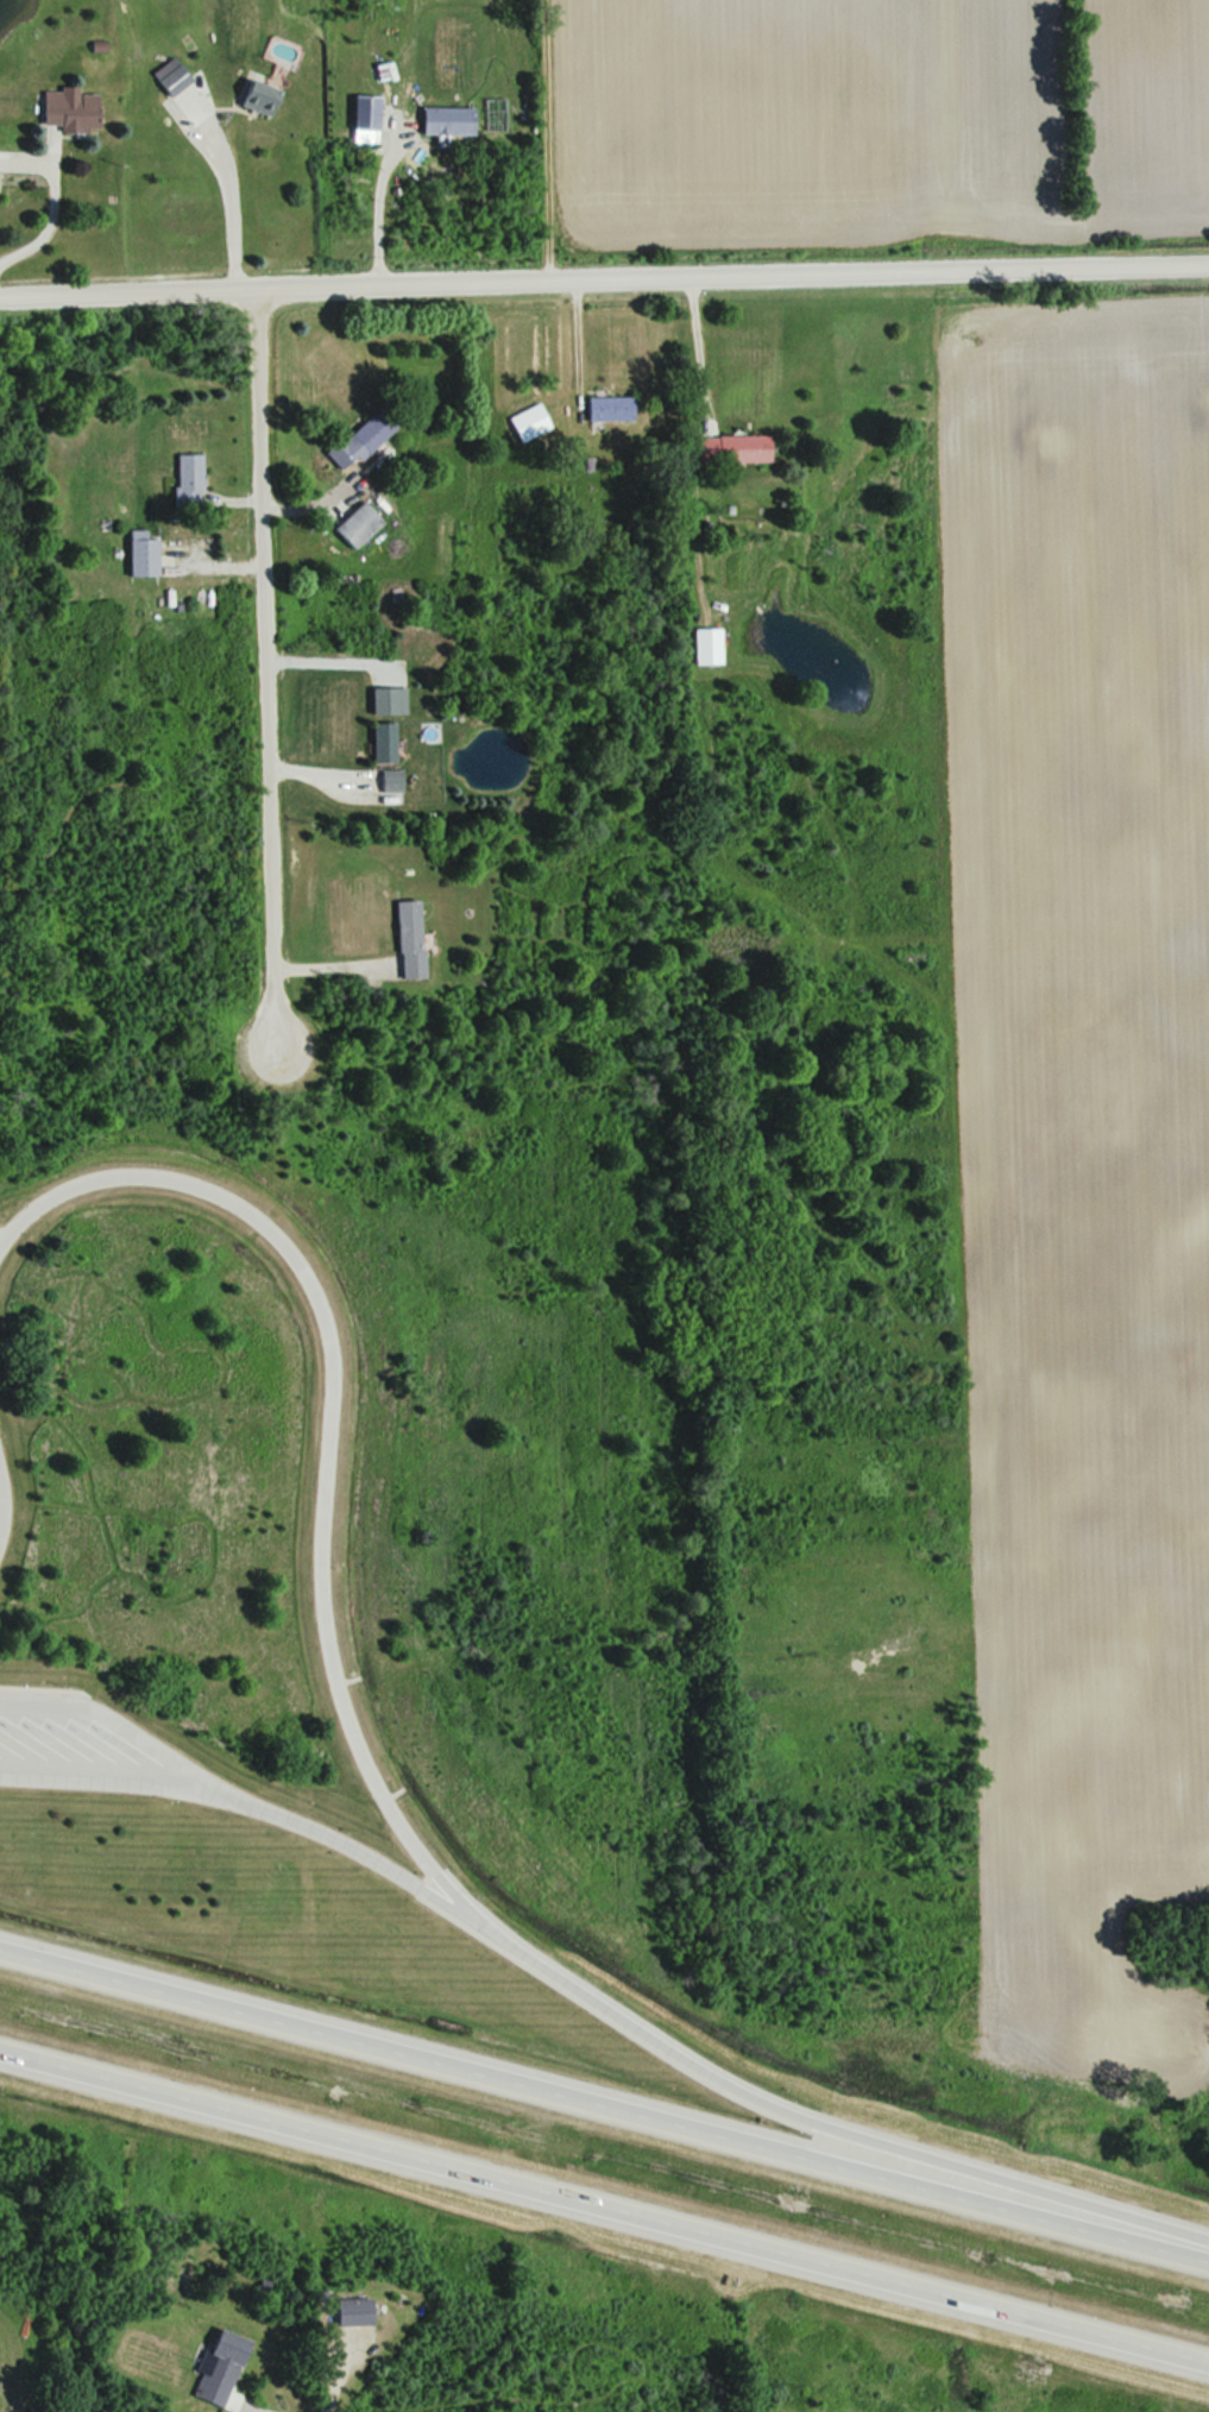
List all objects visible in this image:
building: (163, 77)
building: (247, 95)
building: (59, 109)
building: (439, 121)
road: (228, 193)
road: (377, 202)
road: (604, 270)
road: (700, 338)
building: (602, 408)
building: (523, 422)
building: (354, 437)
building: (728, 447)
building: (181, 478)
building: (350, 524)
building: (134, 555)
building: (701, 645)
road: (262, 663)
building: (377, 743)
building: (404, 939)
parking lot: (5, 1241)
road: (323, 1441)
parking lot: (2, 1469)
road: (45, 1687)
parking lot: (86, 1749)
road: (106, 1777)
road: (243, 1799)
road: (603, 2104)
road: (826, 2124)
road: (604, 2204)
building: (344, 2312)
building: (212, 2368)
road: (334, 2376)

